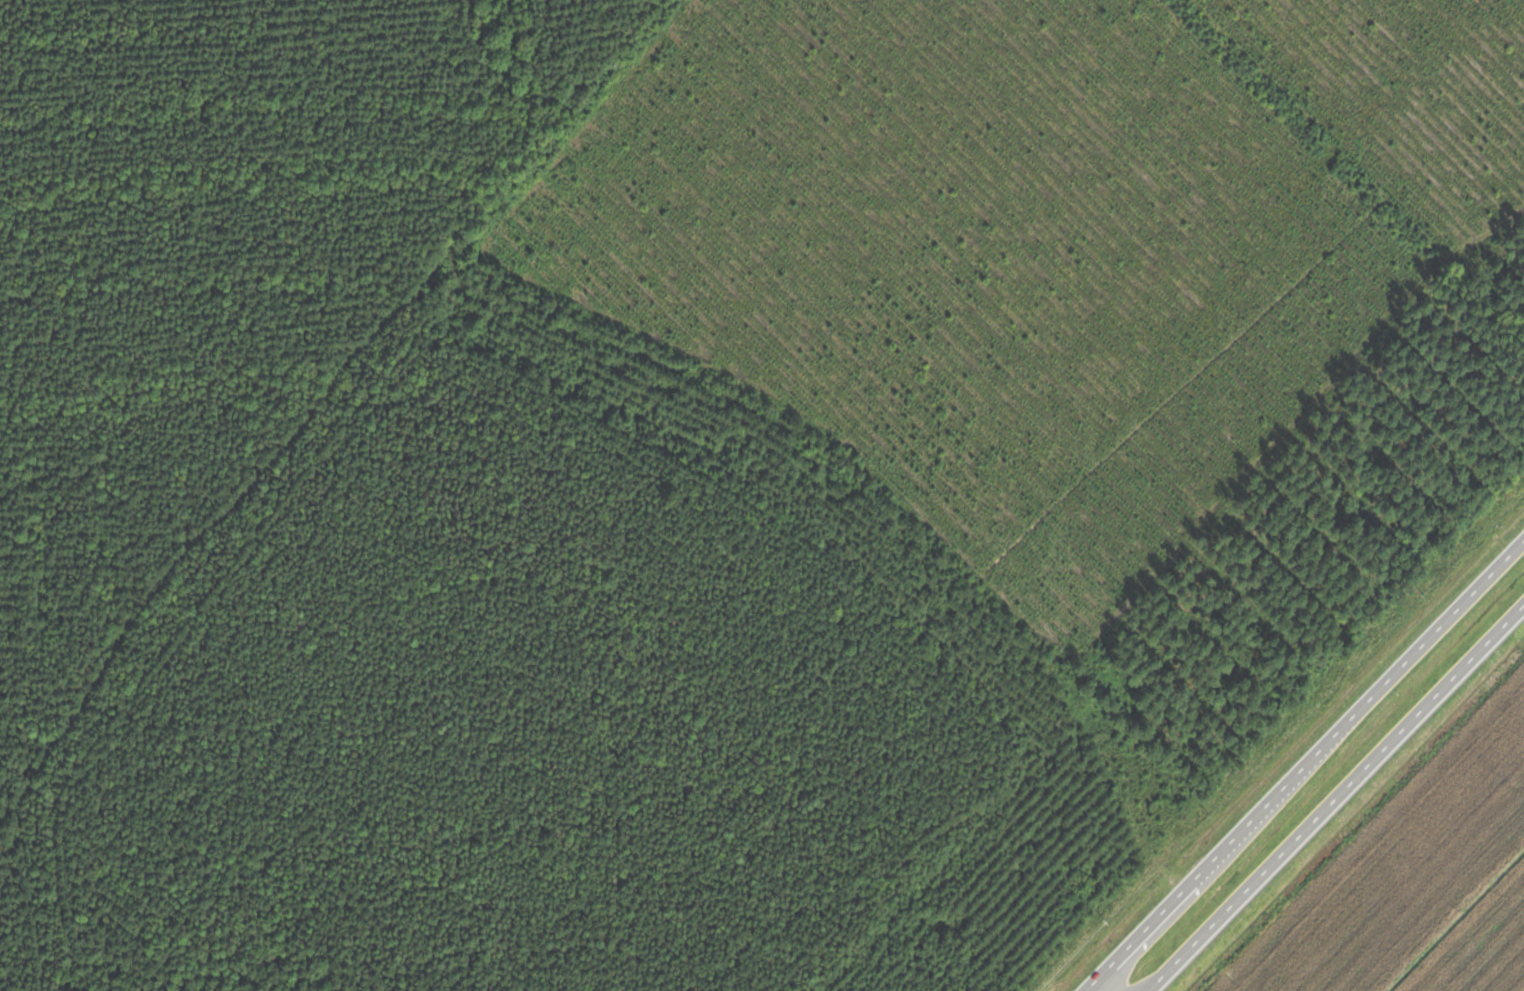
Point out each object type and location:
road: (1304, 766)
road: (1341, 798)
road: (1100, 986)

